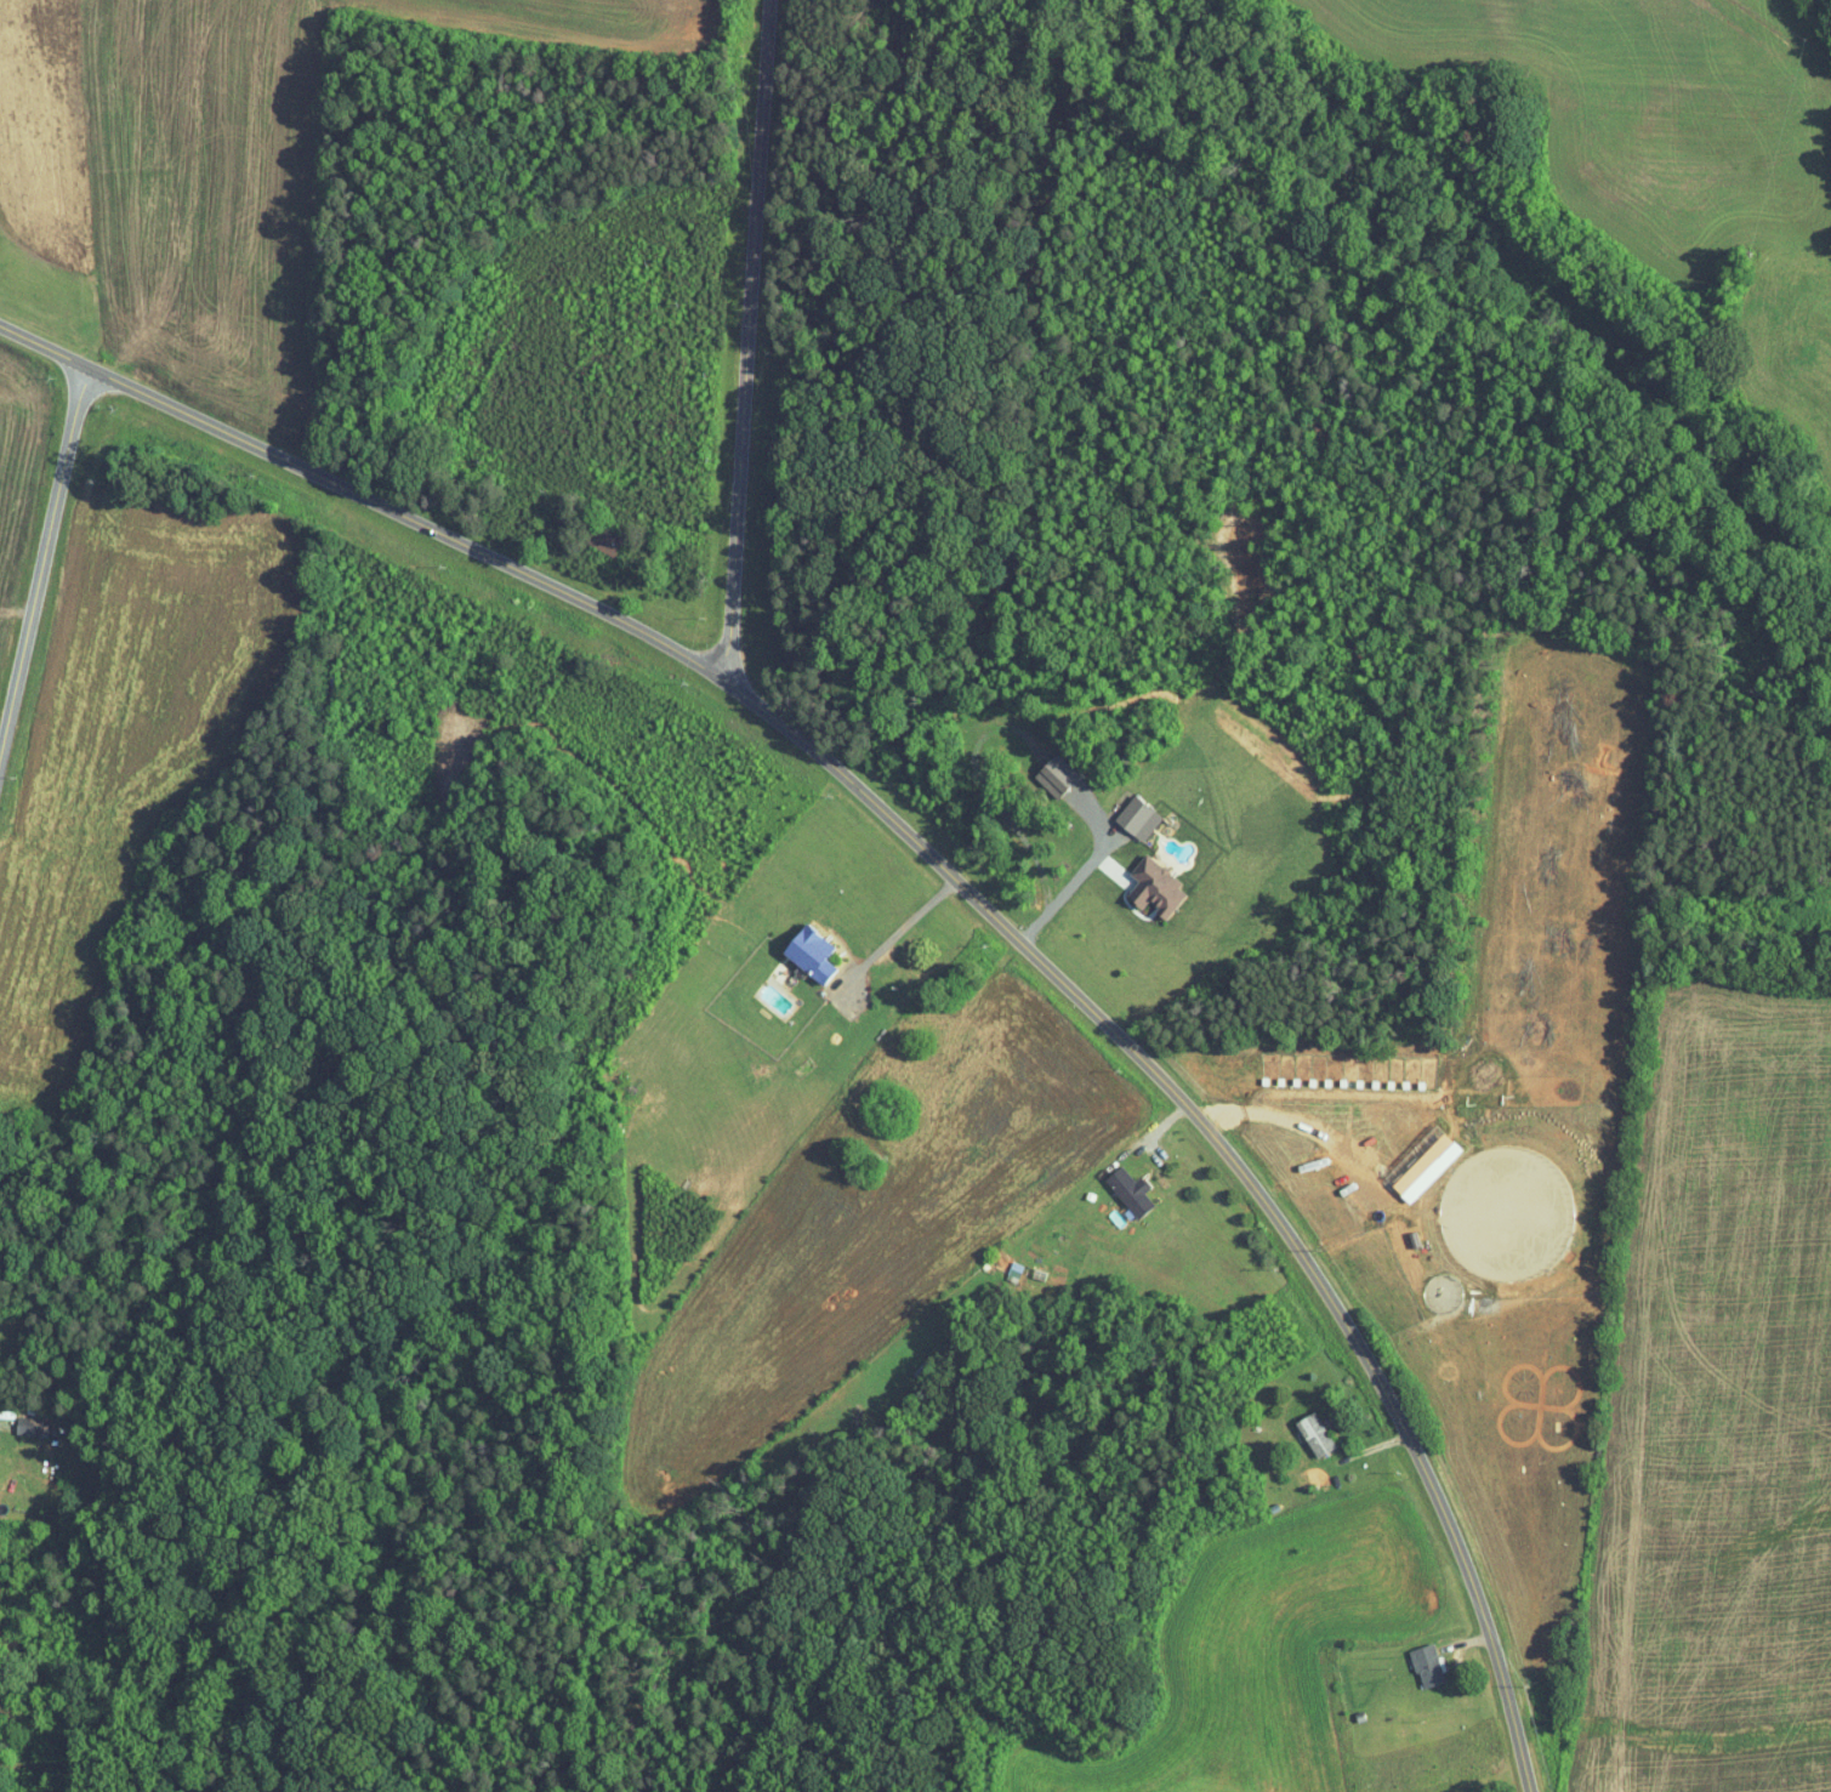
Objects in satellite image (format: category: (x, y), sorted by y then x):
road: (746, 347)
building: (608, 541)
road: (36, 568)
building: (1058, 775)
building: (1139, 818)
road: (946, 878)
building: (1156, 887)
road: (1065, 892)
road: (893, 935)
building: (813, 951)
building: (1131, 1189)
building: (1315, 1433)
building: (1429, 1663)

